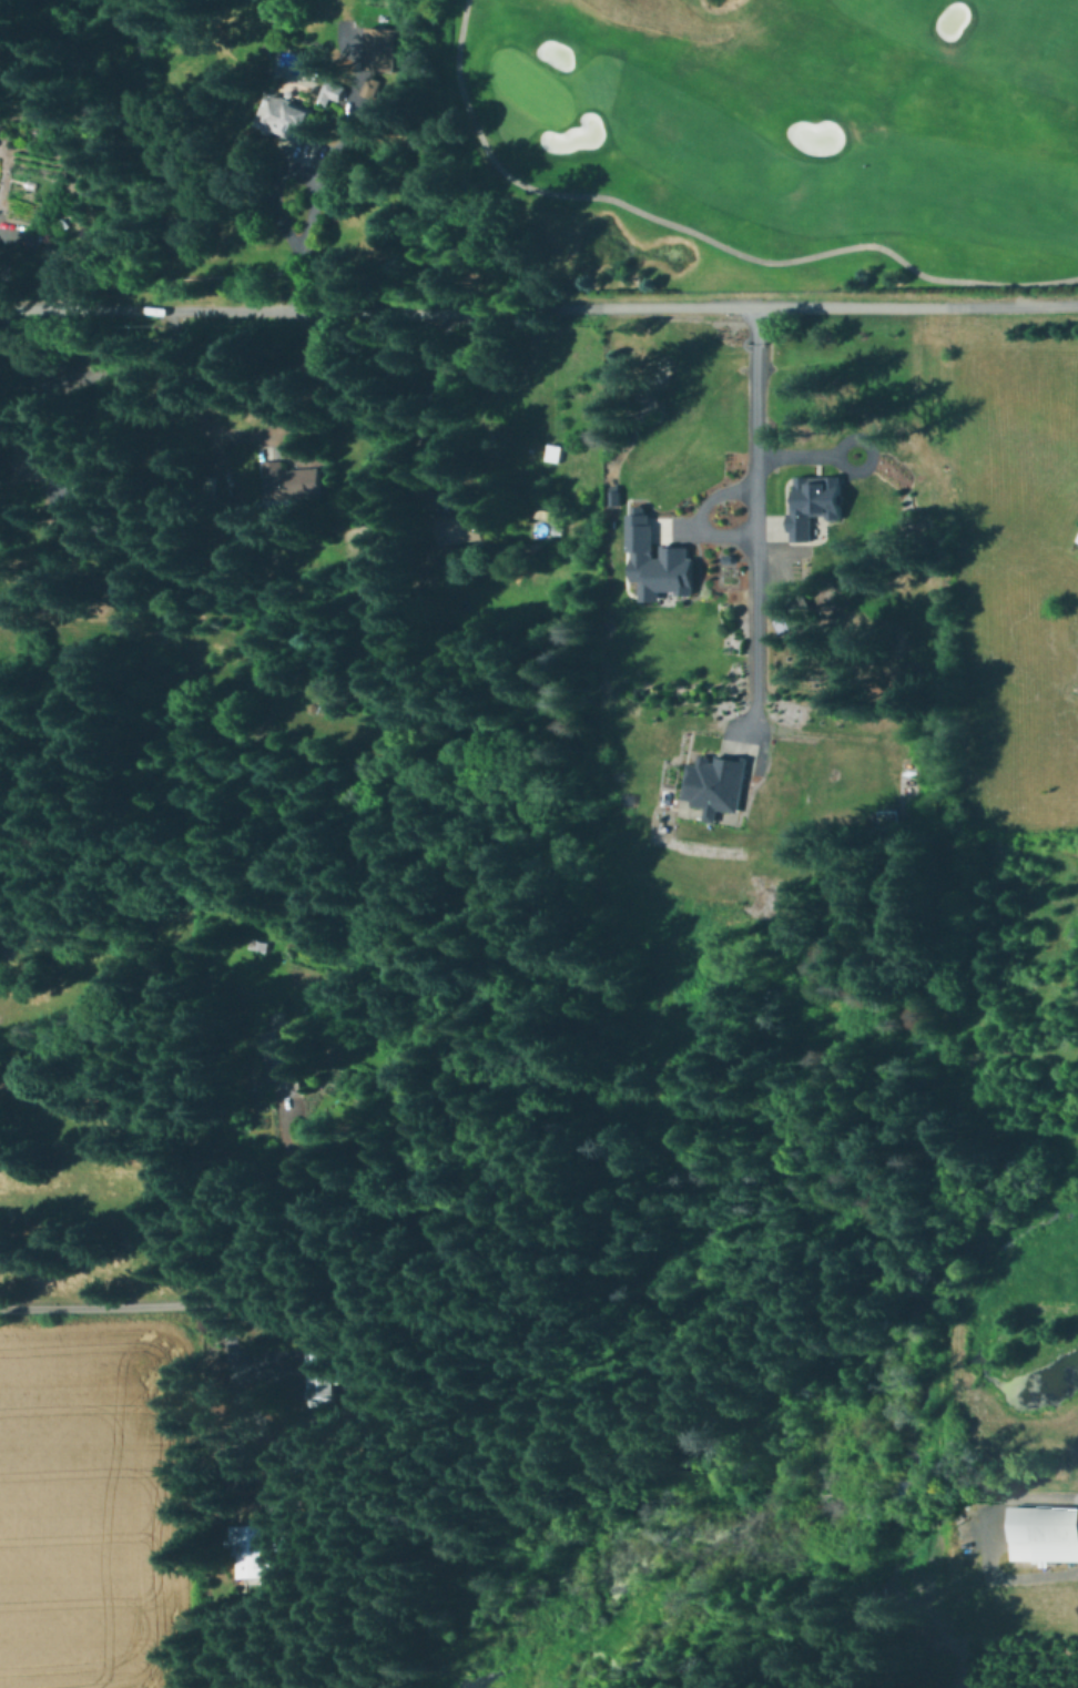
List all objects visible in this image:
building: (384, 49)
building: (375, 88)
building: (328, 92)
building: (286, 116)
park: (742, 144)
road: (311, 179)
building: (258, 218)
road: (699, 234)
road: (722, 306)
road: (183, 309)
building: (20, 379)
road: (861, 436)
road: (796, 451)
building: (555, 452)
building: (38, 458)
building: (87, 482)
building: (295, 482)
building: (814, 506)
building: (547, 515)
road: (699, 515)
road: (753, 518)
building: (89, 526)
building: (465, 528)
road: (681, 530)
building: (1077, 541)
building: (247, 543)
building: (654, 561)
building: (57, 589)
building: (790, 612)
road: (824, 733)
building: (714, 784)
building: (260, 943)
building: (287, 1062)
road: (260, 1223)
road: (160, 1308)
building: (322, 1376)
road: (1008, 1498)
crop: (105, 1508)
building: (1044, 1533)
building: (260, 1549)
road: (965, 1662)

